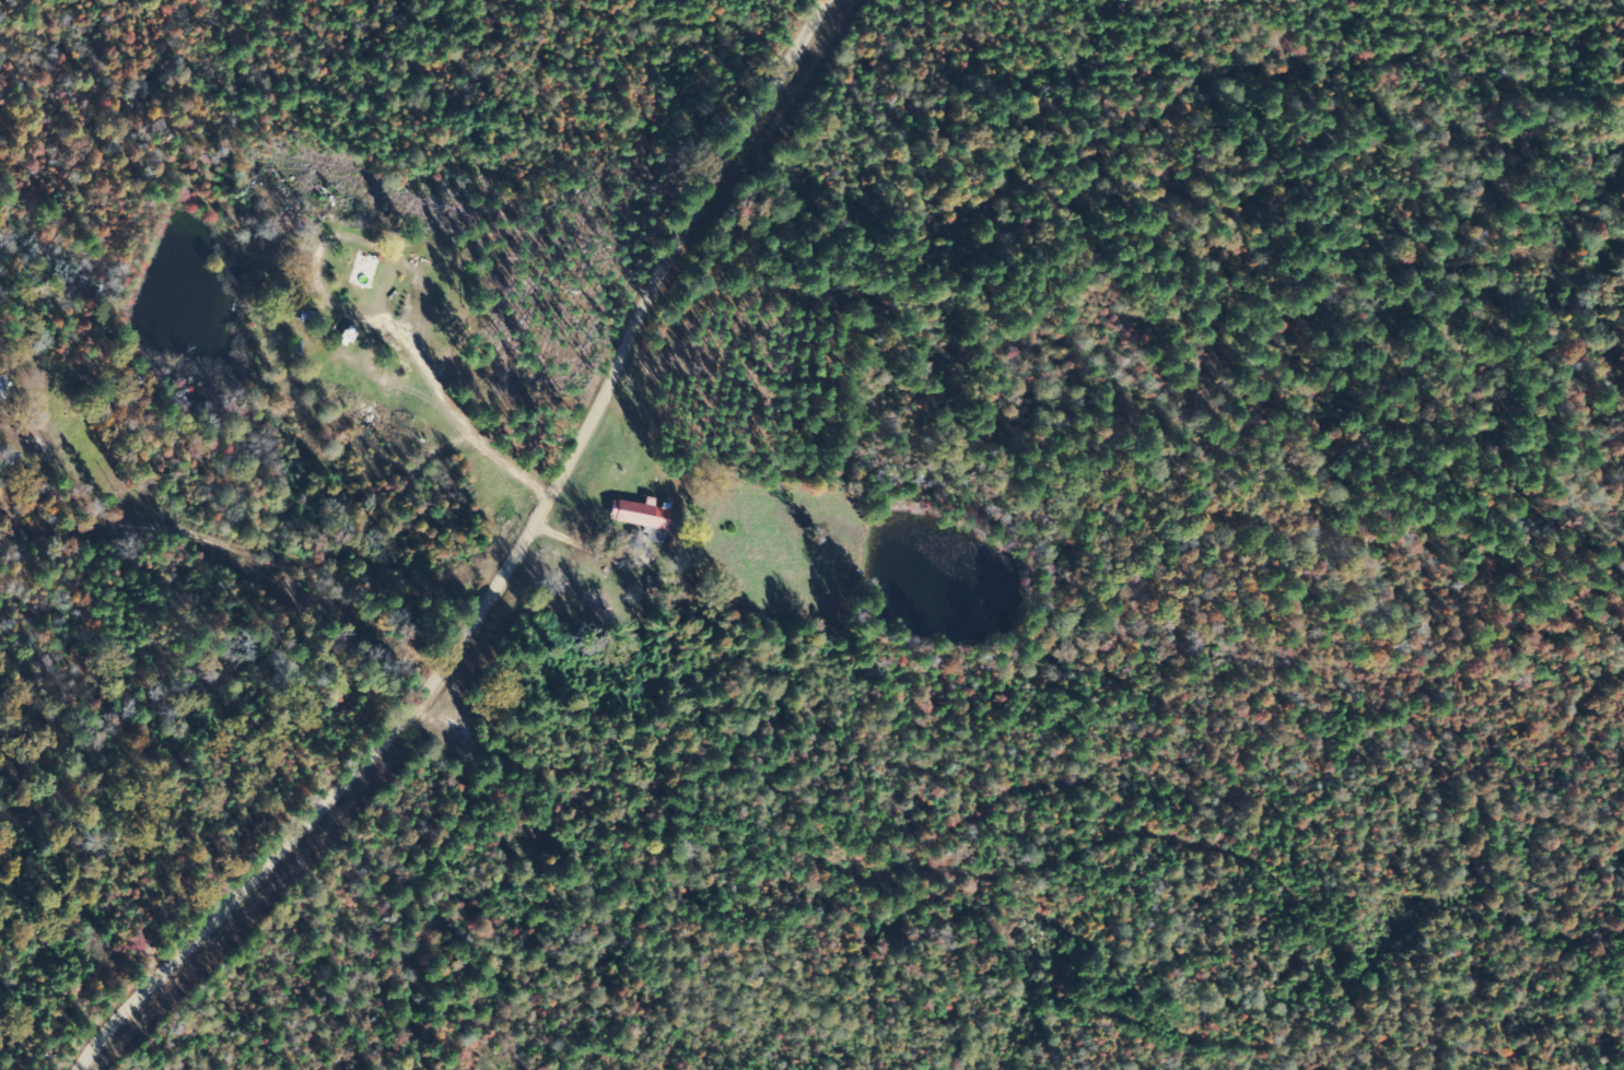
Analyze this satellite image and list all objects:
road: (512, 161)
road: (195, 306)
road: (568, 574)

